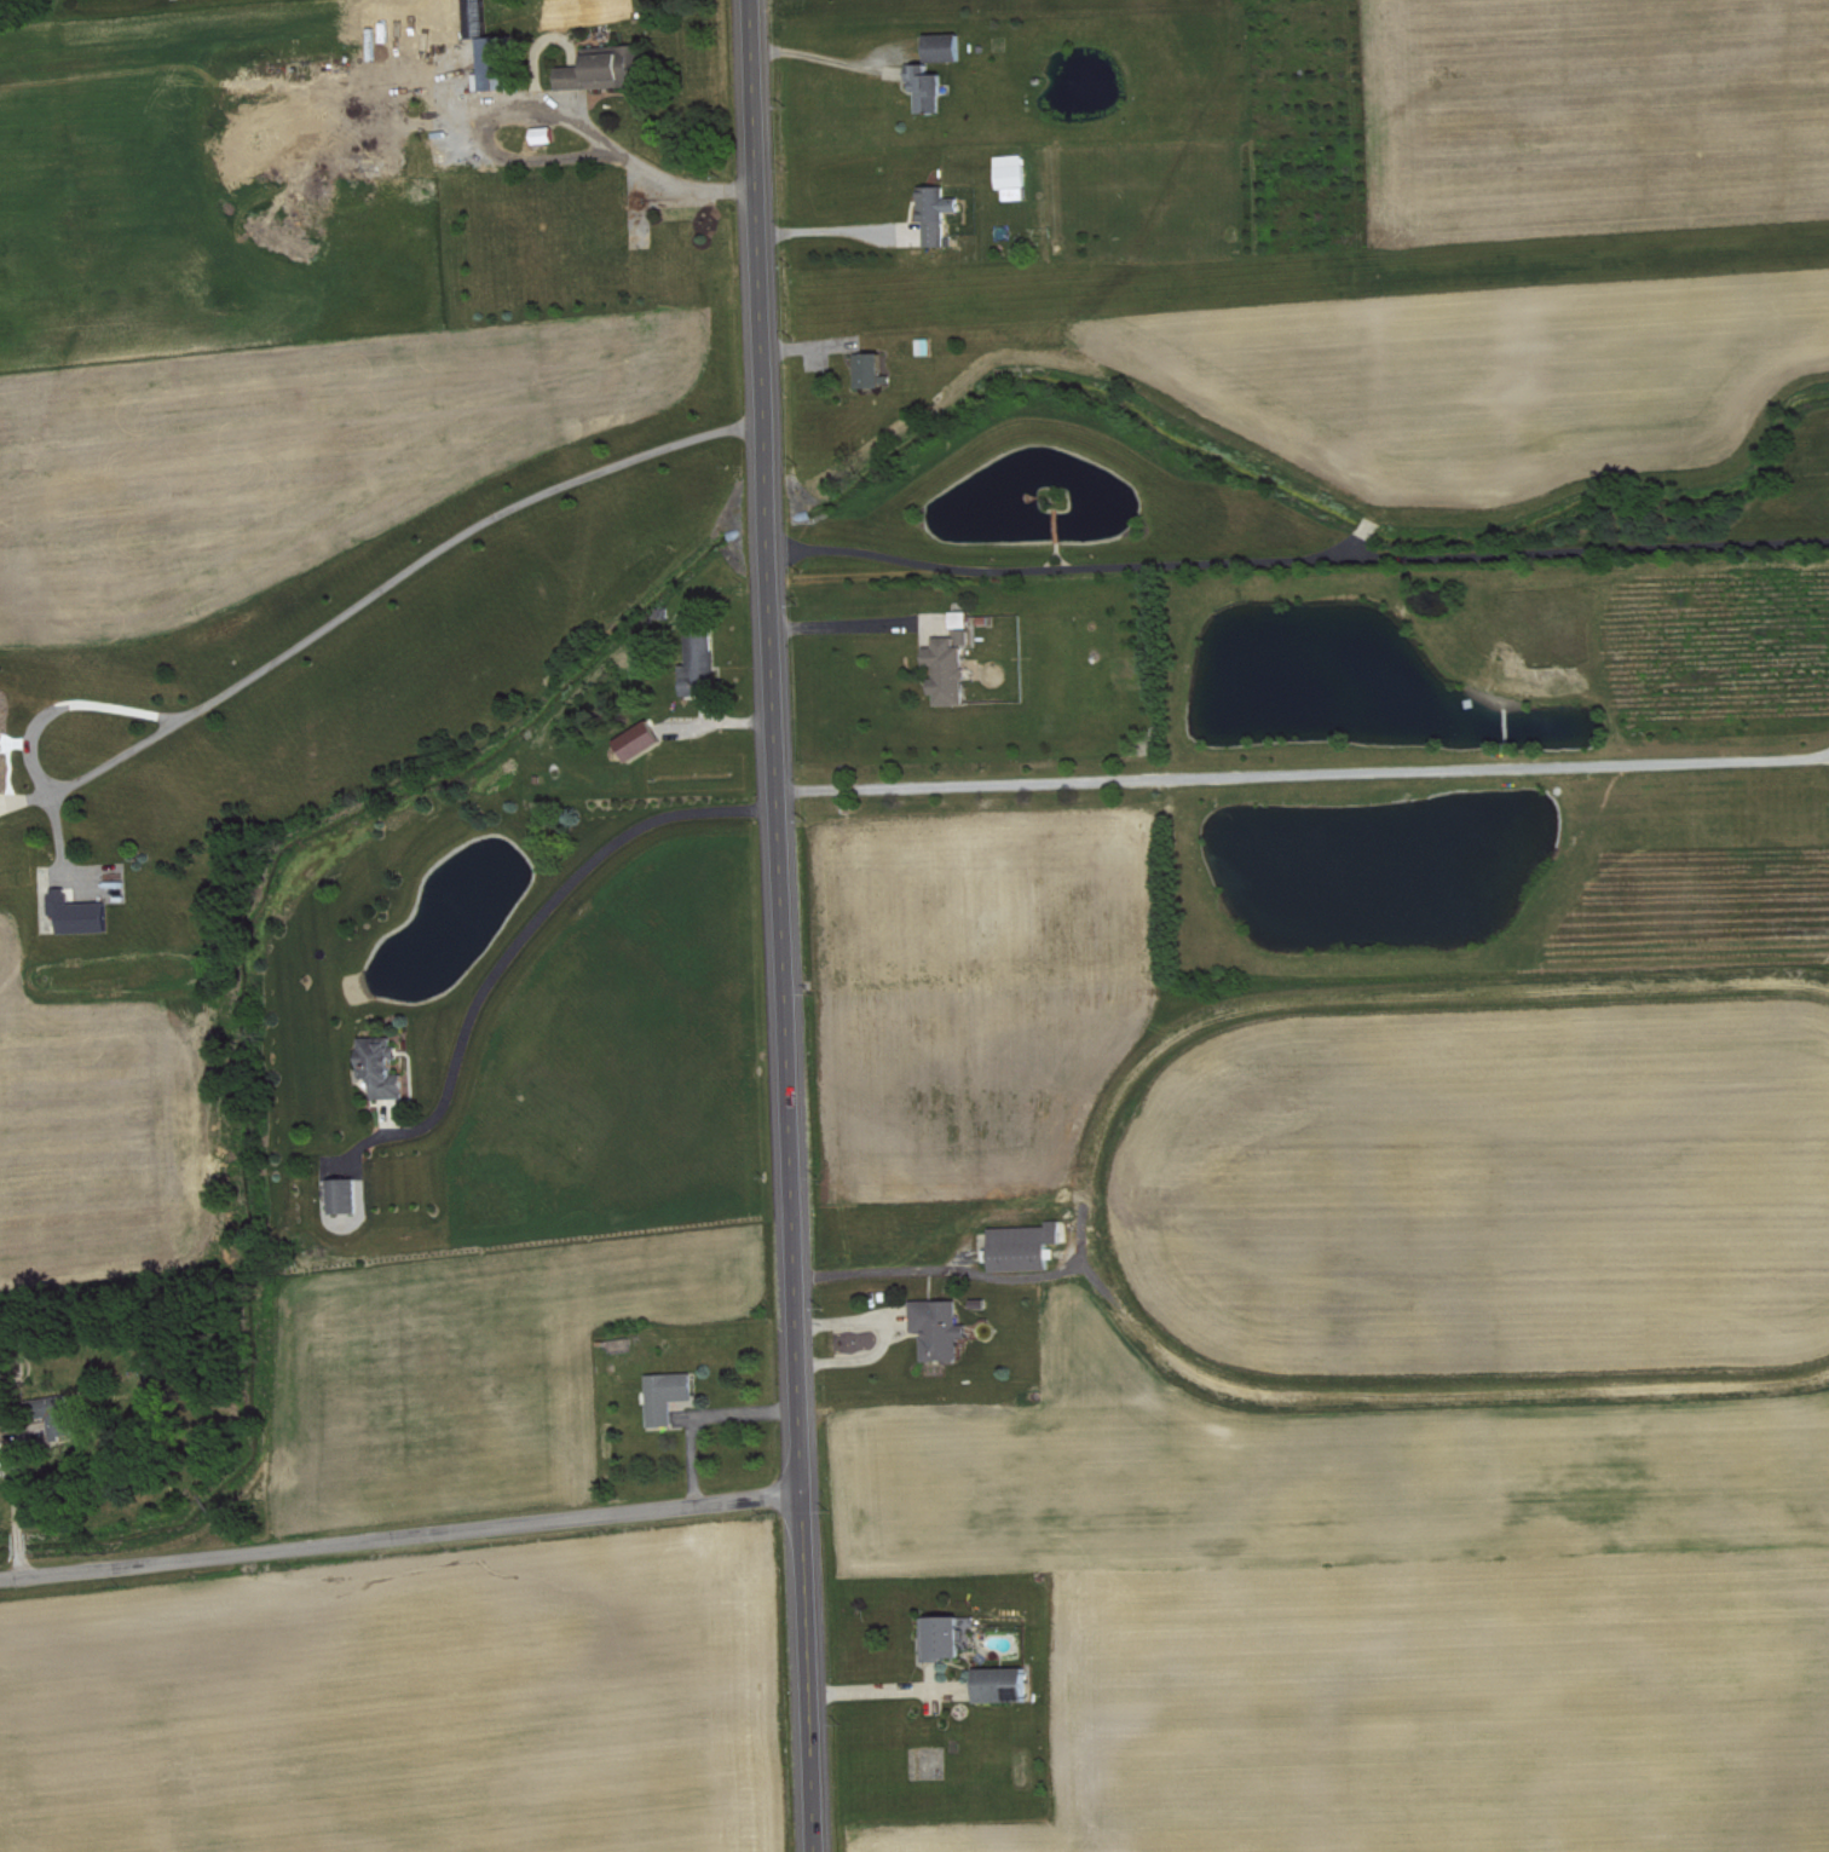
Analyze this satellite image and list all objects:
building: (951, 48)
road: (819, 58)
building: (503, 63)
building: (612, 69)
building: (934, 88)
road: (646, 177)
building: (1019, 177)
building: (944, 213)
road: (829, 232)
building: (877, 370)
road: (1298, 556)
road: (397, 575)
road: (855, 627)
building: (708, 663)
building: (954, 671)
building: (646, 742)
building: (1, 746)
road: (1304, 774)
building: (86, 916)
road: (535, 919)
road: (783, 925)
building: (390, 1068)
building: (351, 1196)
building: (1031, 1247)
road: (925, 1269)
building: (947, 1329)
road: (882, 1335)
building: (674, 1397)
building: (60, 1420)
road: (12, 1479)
road: (17, 1541)
road: (400, 1541)
road: (19, 1569)
building: (950, 1639)
building: (1009, 1686)
road: (881, 1697)

